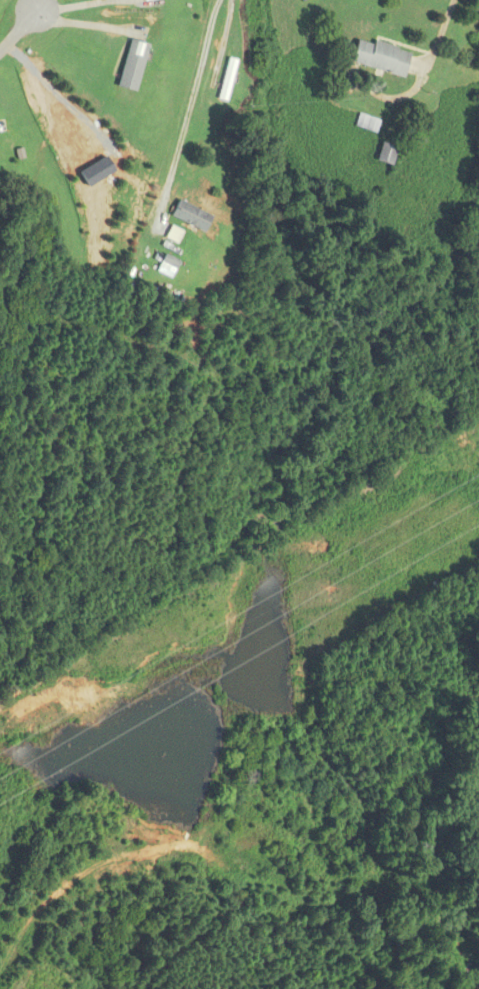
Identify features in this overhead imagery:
road: (41, 5)
road: (73, 6)
road: (83, 24)
road: (19, 29)
road: (439, 35)
building: (377, 57)
building: (129, 65)
building: (224, 79)
road: (187, 112)
building: (364, 123)
building: (381, 154)
building: (190, 221)

